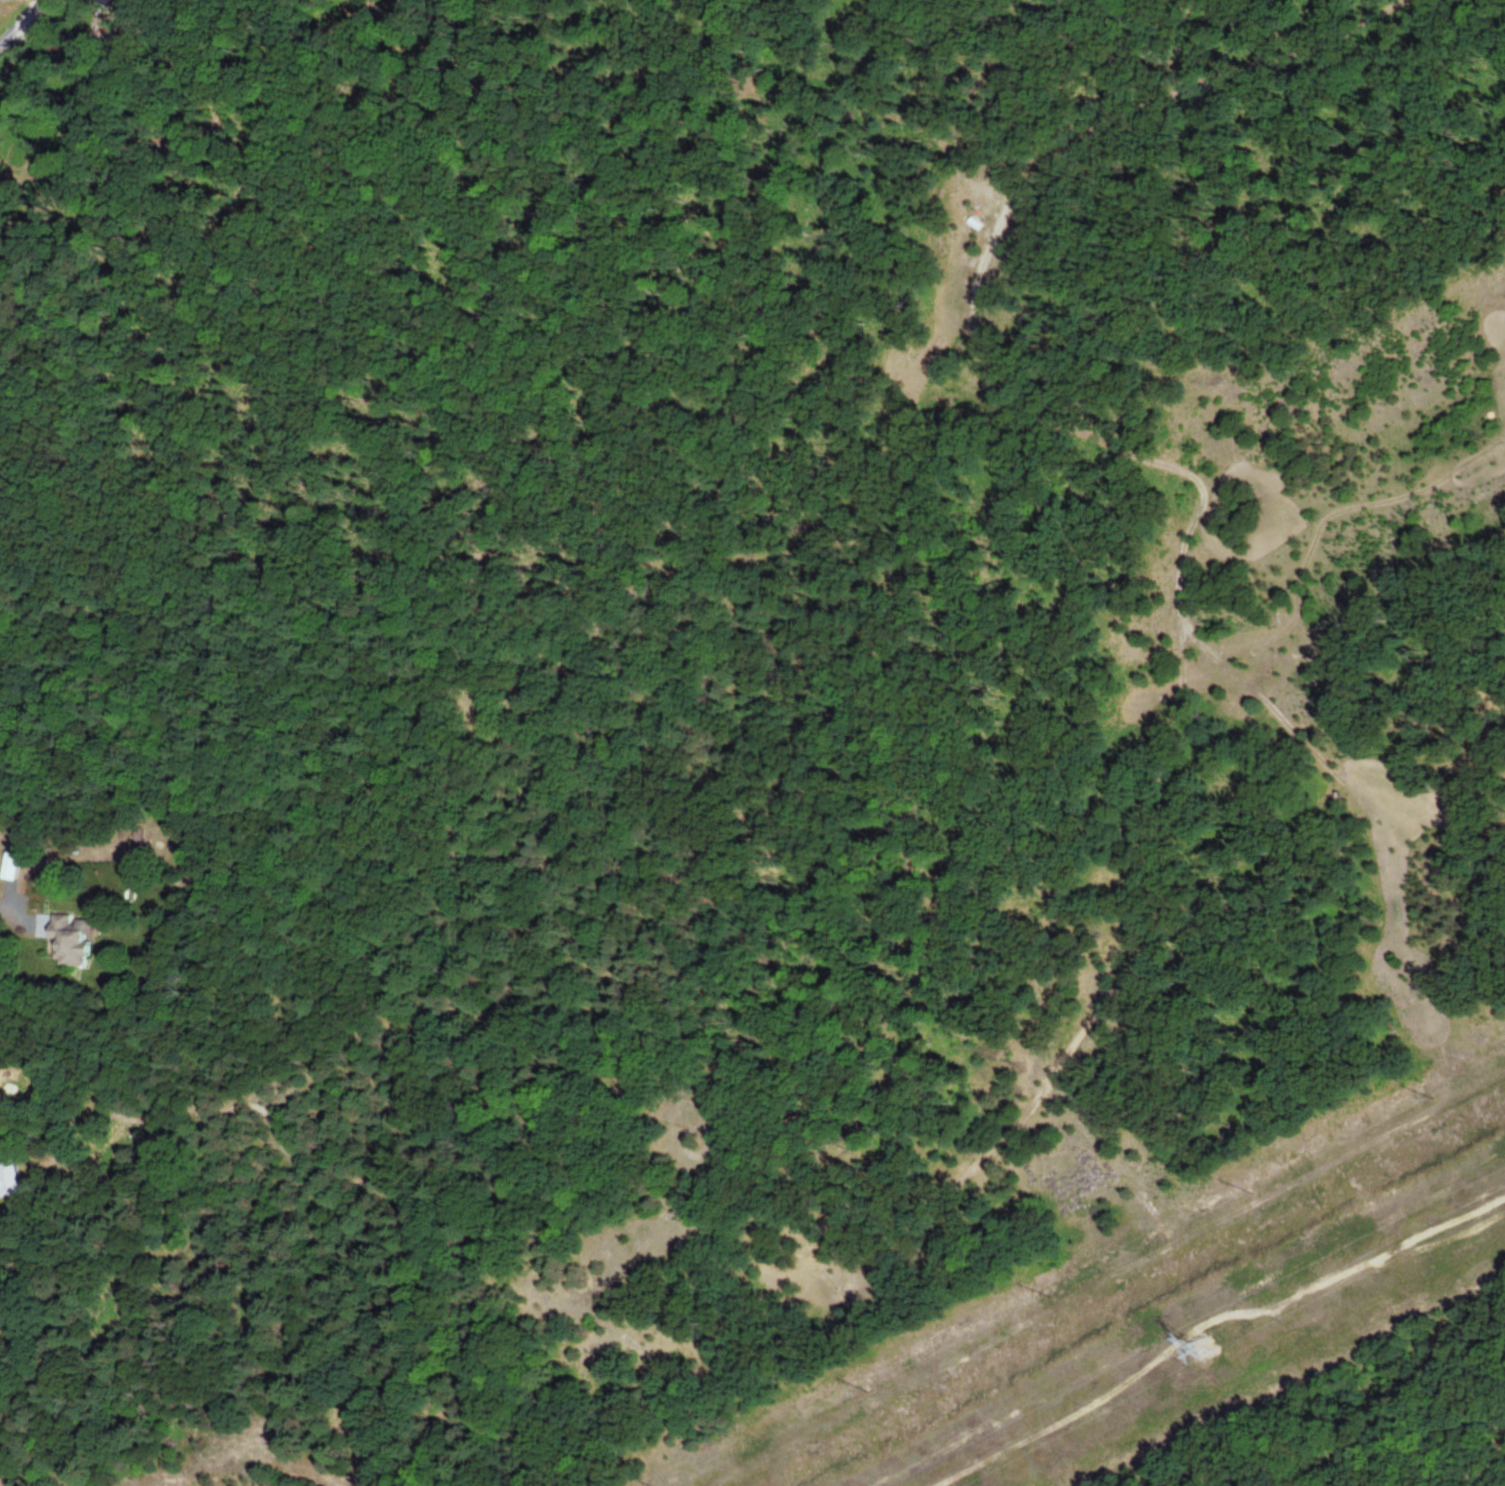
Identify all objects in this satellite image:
building: (9, 866)
building: (73, 941)
building: (10, 1179)
power tower: (1202, 1347)

